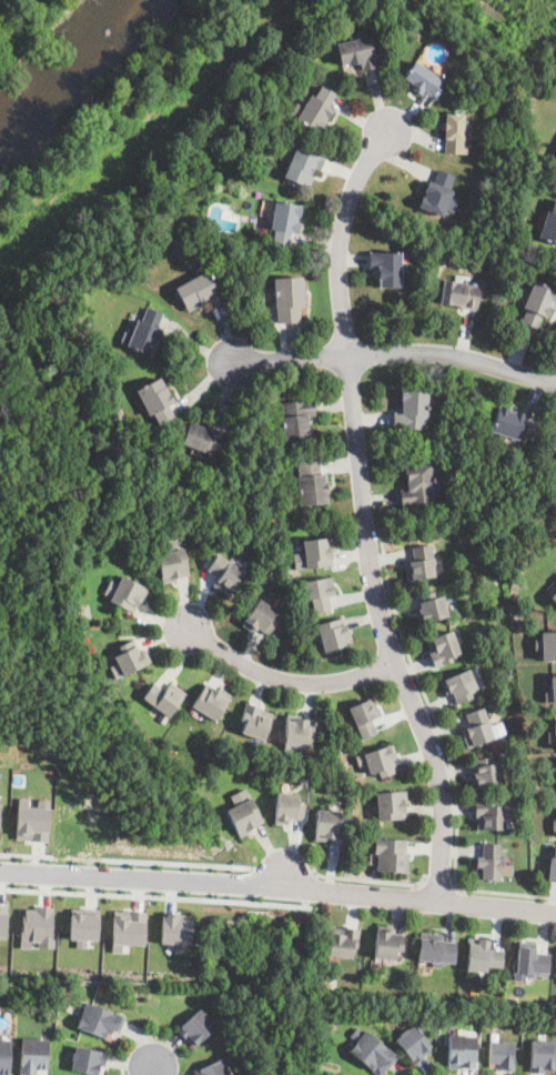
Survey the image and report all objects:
park: (40, 39)
river: (52, 50)
building: (357, 53)
building: (421, 79)
building: (315, 110)
building: (456, 133)
building: (303, 165)
building: (437, 194)
building: (285, 222)
building: (549, 227)
park: (97, 237)
building: (244, 247)
building: (446, 254)
building: (387, 269)
building: (200, 292)
building: (459, 294)
building: (289, 299)
building: (538, 304)
building: (144, 333)
road: (395, 356)
building: (156, 401)
building: (412, 413)
building: (296, 420)
building: (513, 425)
building: (204, 439)
building: (555, 445)
building: (240, 455)
building: (311, 483)
building: (418, 486)
building: (471, 511)
road: (362, 515)
building: (249, 519)
building: (314, 553)
building: (172, 560)
building: (266, 562)
building: (419, 564)
building: (226, 572)
building: (555, 579)
building: (555, 580)
building: (125, 592)
building: (320, 593)
building: (553, 594)
building: (431, 606)
building: (261, 617)
building: (334, 634)
building: (547, 644)
building: (444, 647)
building: (129, 657)
road: (283, 680)
building: (459, 685)
building: (550, 690)
building: (163, 696)
building: (211, 701)
building: (365, 715)
building: (255, 720)
building: (478, 727)
building: (297, 733)
building: (552, 735)
road: (447, 751)
building: (380, 762)
building: (555, 763)
building: (487, 773)
building: (553, 775)
building: (0, 798)
building: (391, 805)
building: (289, 807)
building: (244, 812)
building: (489, 815)
building: (33, 818)
building: (330, 824)
building: (554, 824)
road: (27, 854)
building: (392, 855)
road: (175, 863)
building: (489, 864)
building: (552, 865)
road: (282, 868)
road: (372, 882)
road: (443, 882)
road: (277, 885)
road: (310, 888)
road: (152, 895)
building: (2, 920)
building: (83, 925)
building: (37, 926)
building: (128, 928)
building: (176, 928)
building: (343, 942)
building: (387, 944)
building: (436, 948)
building: (483, 954)
building: (530, 961)
building: (101, 1021)
building: (196, 1026)
building: (414, 1043)
building: (372, 1049)
building: (462, 1051)
building: (502, 1053)
building: (4, 1055)
building: (33, 1056)
building: (543, 1056)
building: (89, 1059)
building: (212, 1068)
road: (124, 1071)
road: (150, 1072)

